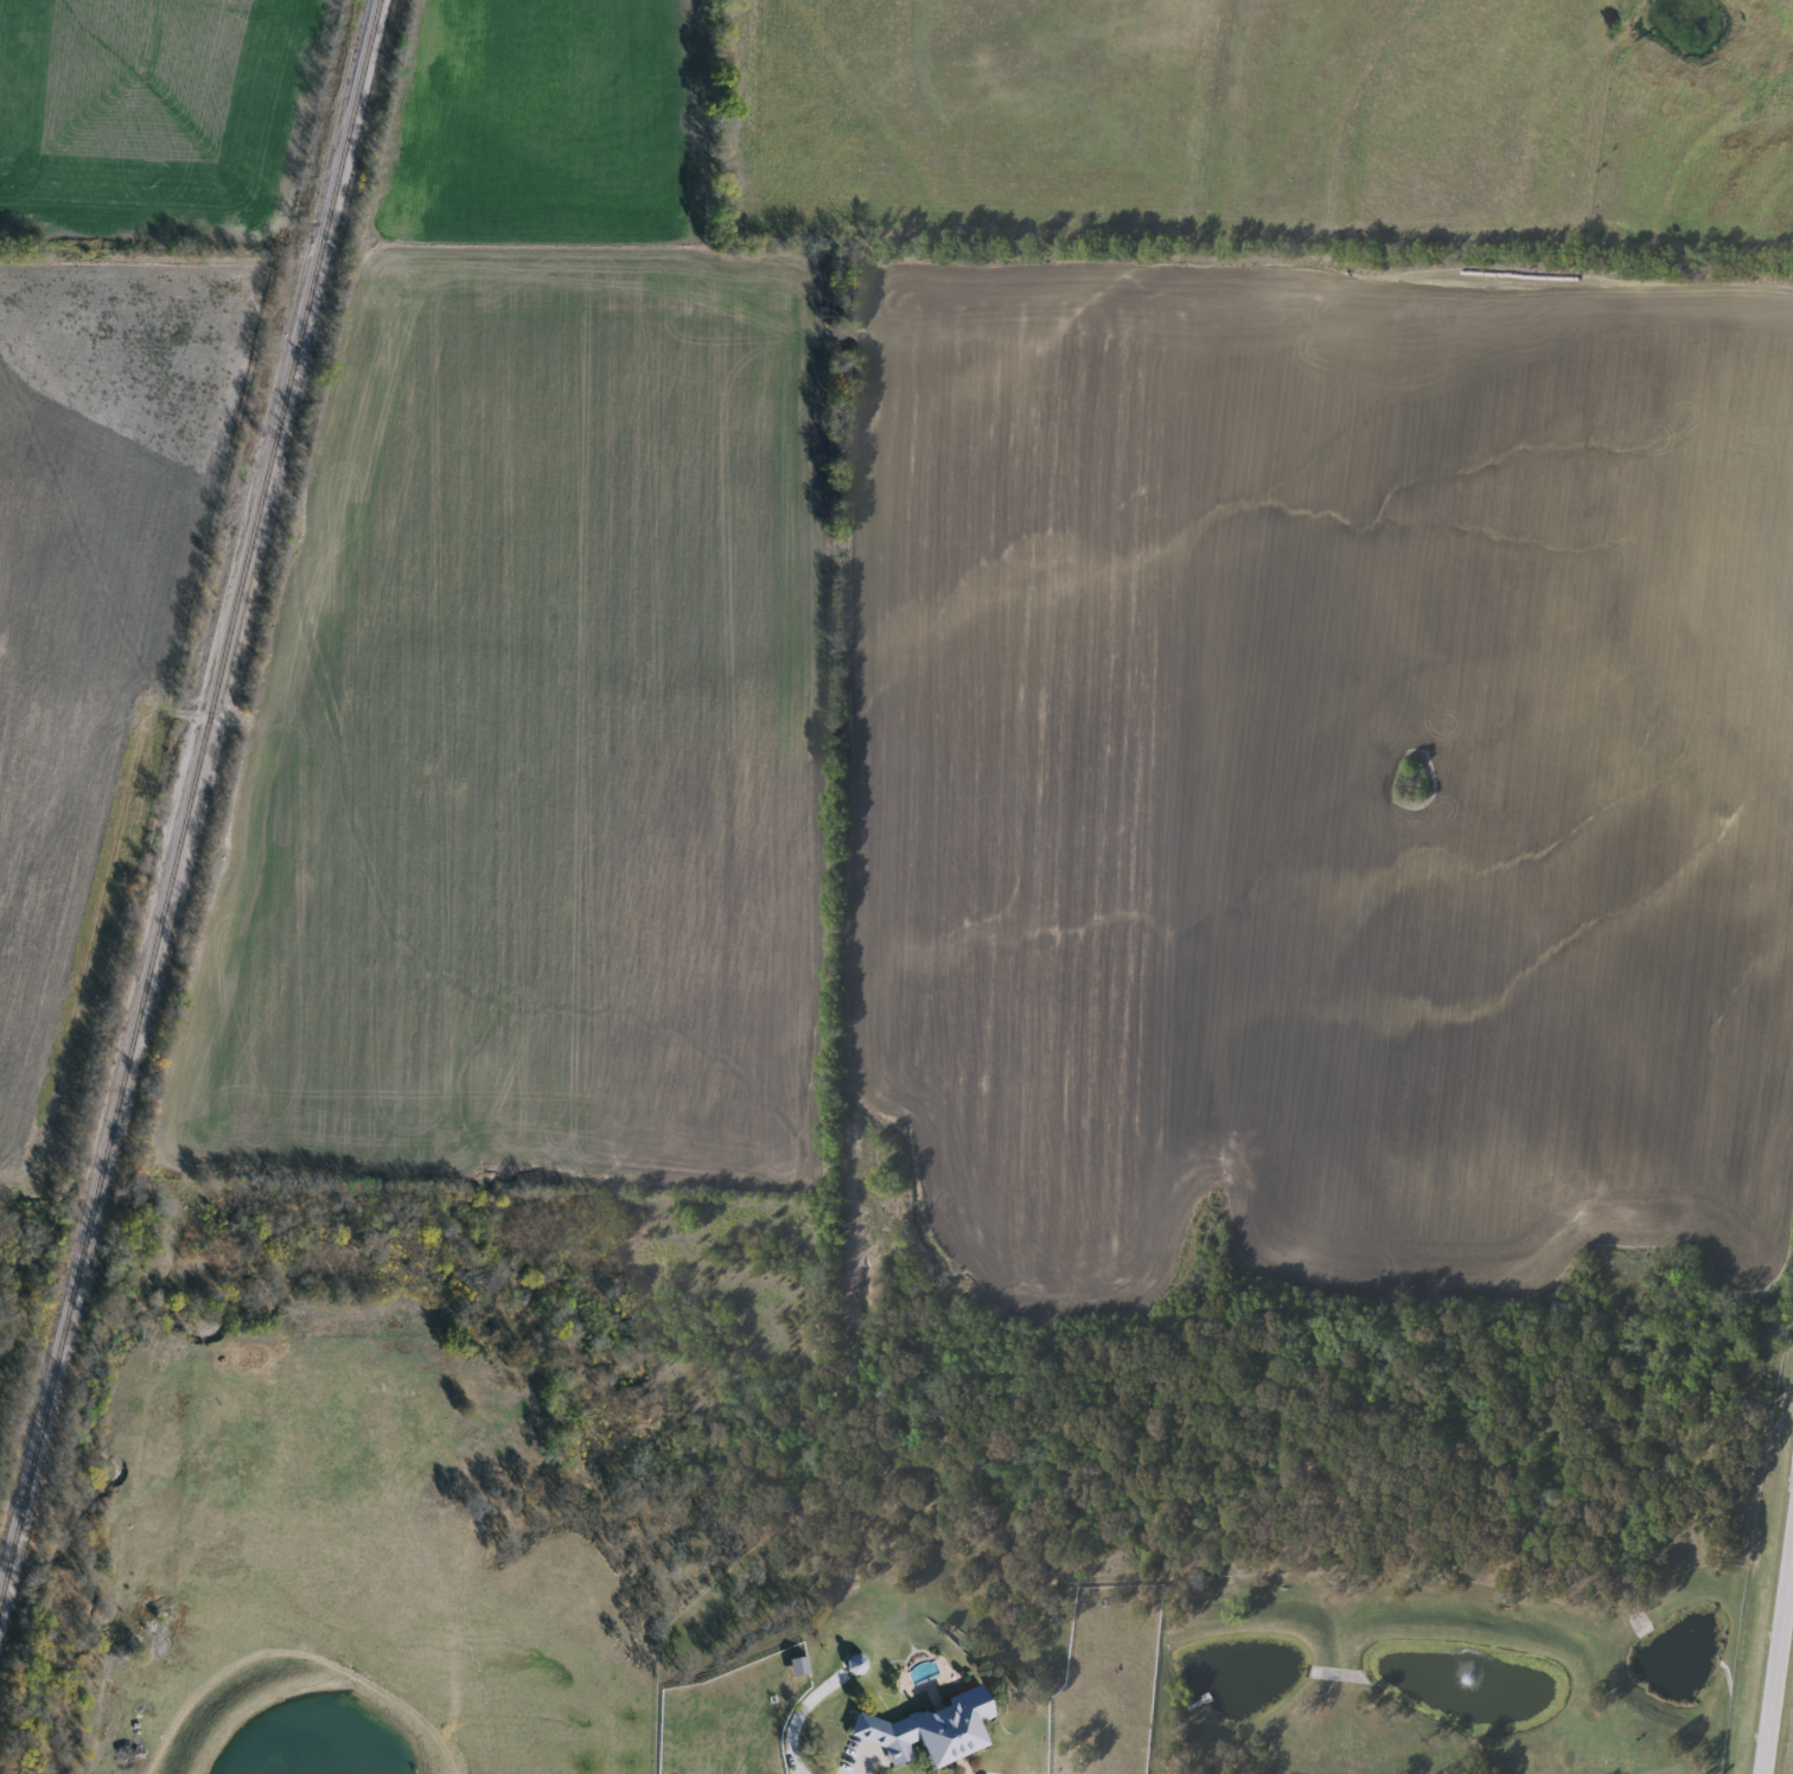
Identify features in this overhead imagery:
crop: (151, 115)
road: (208, 716)
railway: (190, 802)
road: (1774, 1636)
road: (802, 1711)
building: (930, 1730)

